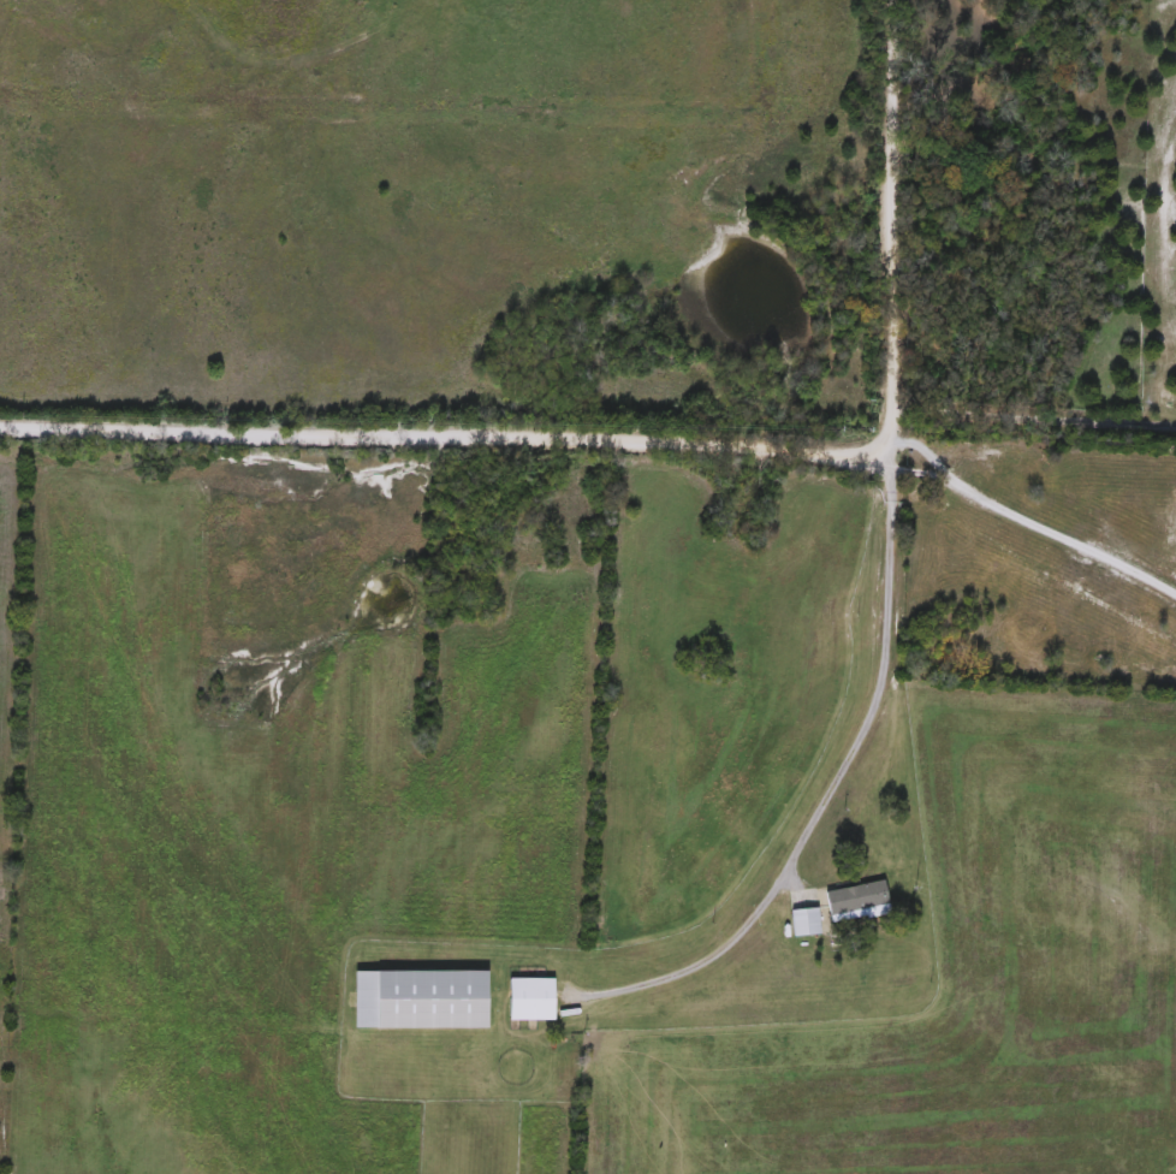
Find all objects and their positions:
road: (1032, 413)
road: (660, 429)
road: (1024, 511)
road: (825, 769)
building: (859, 903)
building: (806, 923)
building: (534, 1000)
building: (426, 1001)

